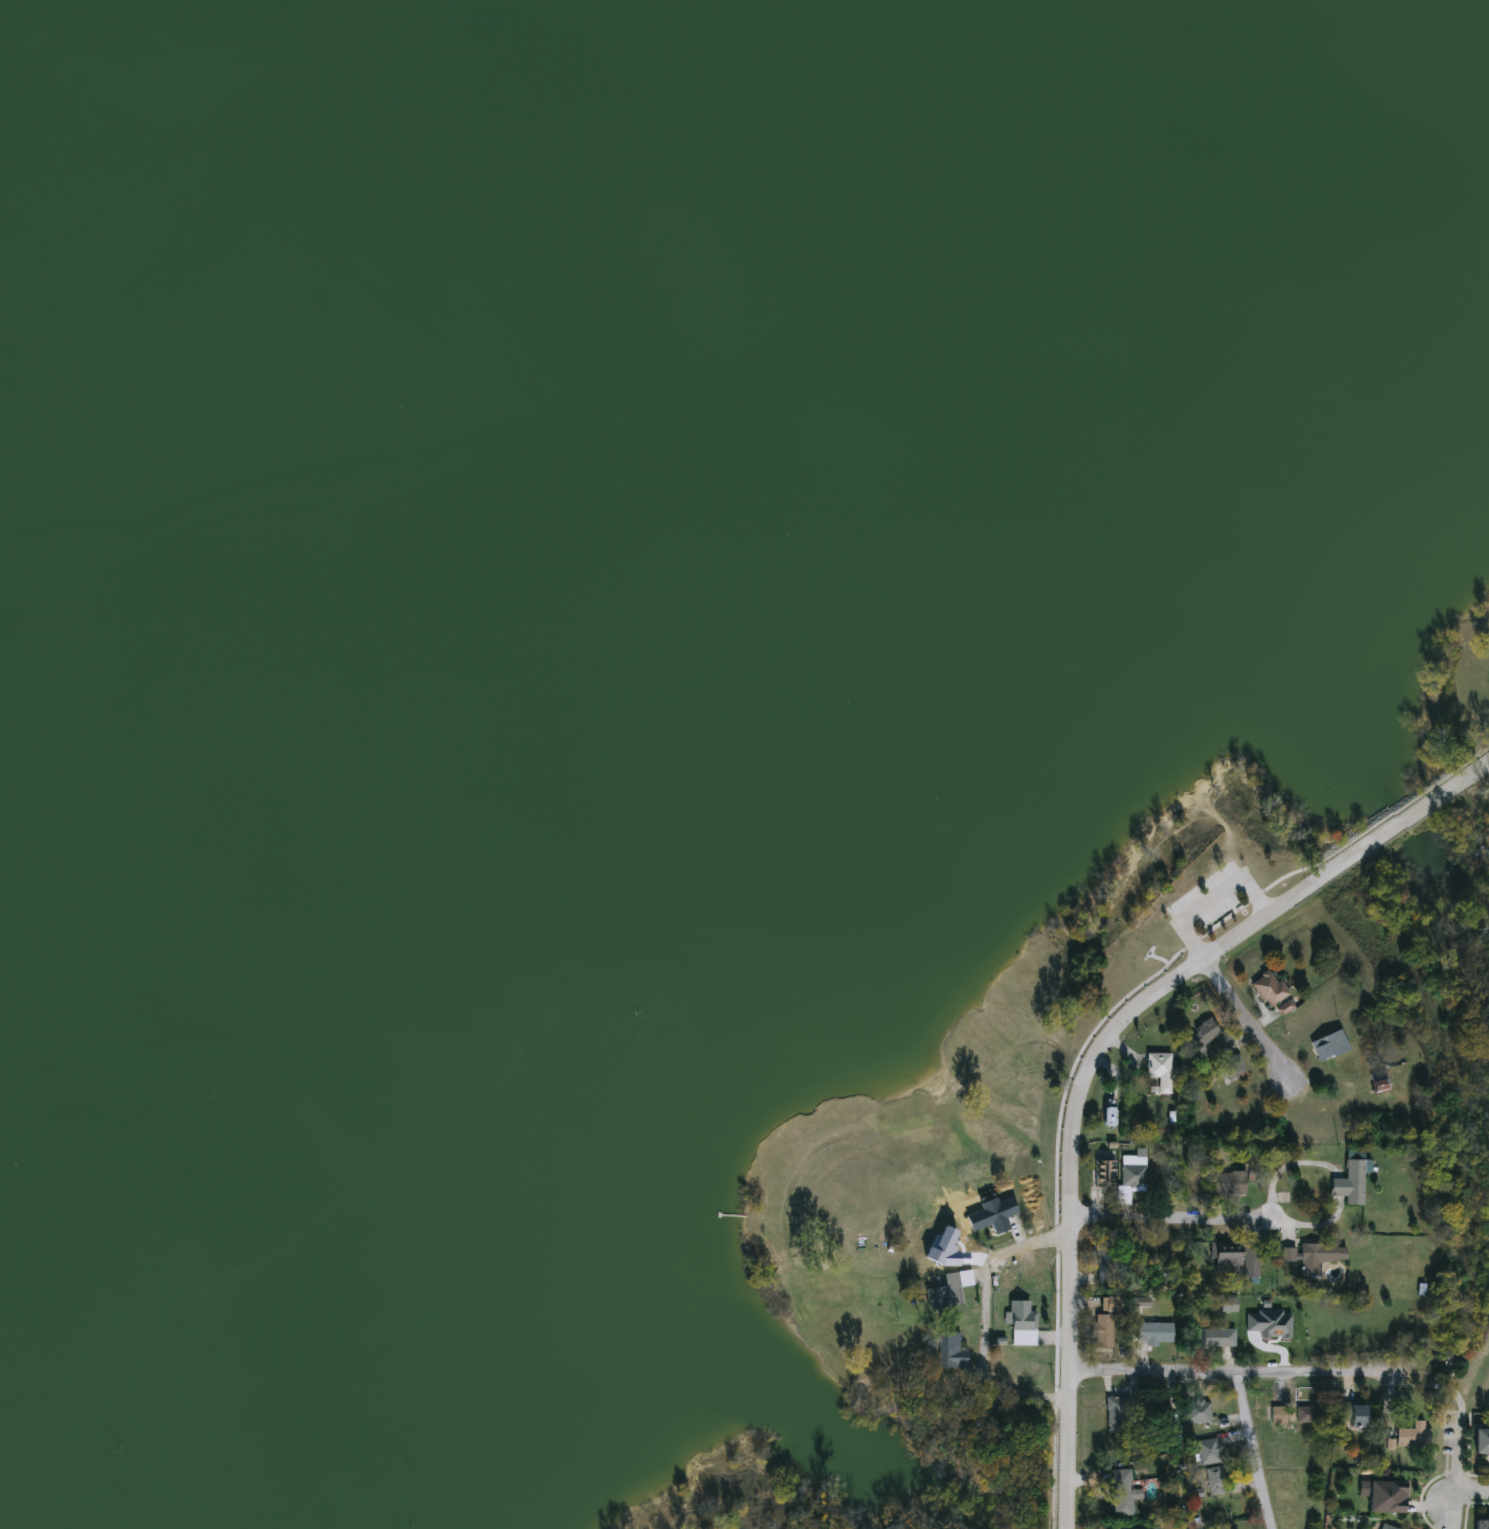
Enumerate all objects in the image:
road: (1214, 895)
building: (468, 963)
building: (1268, 989)
road: (1154, 990)
road: (1249, 1020)
building: (1203, 1031)
building: (1328, 1046)
building: (1235, 1067)
building: (1159, 1070)
building: (1377, 1082)
building: (1108, 1117)
road: (1285, 1161)
building: (1104, 1170)
building: (1132, 1175)
building: (1350, 1179)
building: (1228, 1184)
building: (146, 1187)
road: (1112, 1213)
building: (987, 1217)
building: (1312, 1257)
building: (1223, 1259)
building: (1251, 1260)
building: (947, 1291)
building: (1109, 1305)
building: (1021, 1325)
building: (1102, 1332)
building: (1154, 1334)
building: (1213, 1338)
building: (950, 1350)
road: (1097, 1368)
road: (1270, 1370)
road: (991, 1383)
building: (1122, 1400)
building: (1196, 1411)
building: (1164, 1413)
building: (1311, 1413)
building: (1276, 1415)
building: (1352, 1415)
building: (1411, 1436)
building: (1480, 1443)
road: (1064, 1448)
road: (1247, 1449)
building: (1207, 1452)
road: (1462, 1476)
building: (1213, 1482)
park: (718, 1490)
building: (1121, 1492)
road: (1475, 1492)
building: (1384, 1498)
building: (1481, 1524)
building: (1384, 1527)

